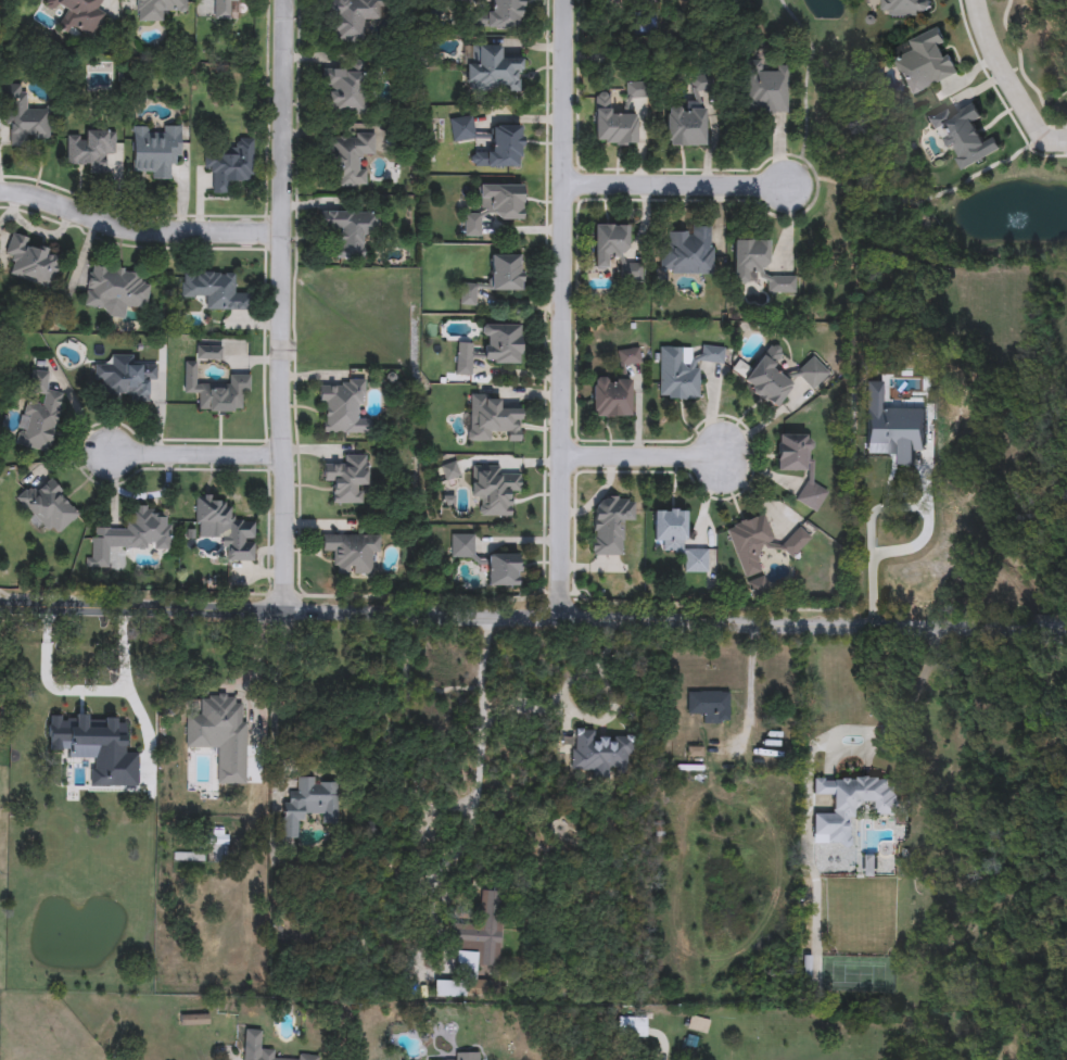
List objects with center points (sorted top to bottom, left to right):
building: (459, 0)
building: (633, 0)
building: (906, 8)
building: (223, 9)
building: (155, 10)
building: (504, 13)
building: (80, 14)
building: (351, 17)
building: (924, 61)
building: (493, 72)
road: (1000, 73)
building: (346, 89)
building: (635, 89)
building: (765, 89)
building: (24, 116)
building: (611, 123)
building: (685, 124)
building: (461, 129)
building: (962, 136)
road: (1056, 136)
road: (1056, 140)
building: (89, 148)
building: (500, 149)
building: (154, 150)
building: (348, 157)
building: (229, 165)
road: (674, 182)
building: (494, 206)
road: (140, 230)
building: (348, 231)
building: (609, 241)
building: (687, 252)
building: (31, 261)
building: (758, 266)
building: (631, 272)
building: (495, 278)
building: (116, 288)
building: (213, 290)
road: (288, 306)
road: (563, 308)
building: (488, 349)
building: (208, 352)
building: (628, 356)
building: (683, 370)
building: (124, 377)
building: (778, 377)
building: (216, 391)
building: (611, 397)
building: (341, 407)
building: (38, 415)
building: (491, 418)
building: (879, 436)
road: (642, 452)
building: (793, 453)
road: (202, 456)
building: (448, 471)
building: (347, 478)
building: (493, 489)
building: (811, 496)
building: (47, 507)
road: (881, 507)
building: (610, 525)
building: (225, 529)
building: (130, 535)
building: (677, 539)
building: (793, 542)
building: (749, 543)
building: (461, 546)
building: (350, 551)
building: (501, 570)
building: (757, 585)
road: (533, 615)
road: (601, 662)
road: (256, 674)
building: (1060, 682)
road: (82, 693)
road: (271, 699)
building: (709, 706)
building: (100, 710)
road: (897, 715)
building: (41, 716)
building: (218, 719)
building: (600, 754)
building: (695, 758)
road: (478, 771)
building: (851, 804)
building: (309, 805)
building: (217, 846)
building: (869, 866)
building: (481, 934)
building: (449, 988)
building: (194, 1019)
building: (261, 1048)
building: (452, 1059)

